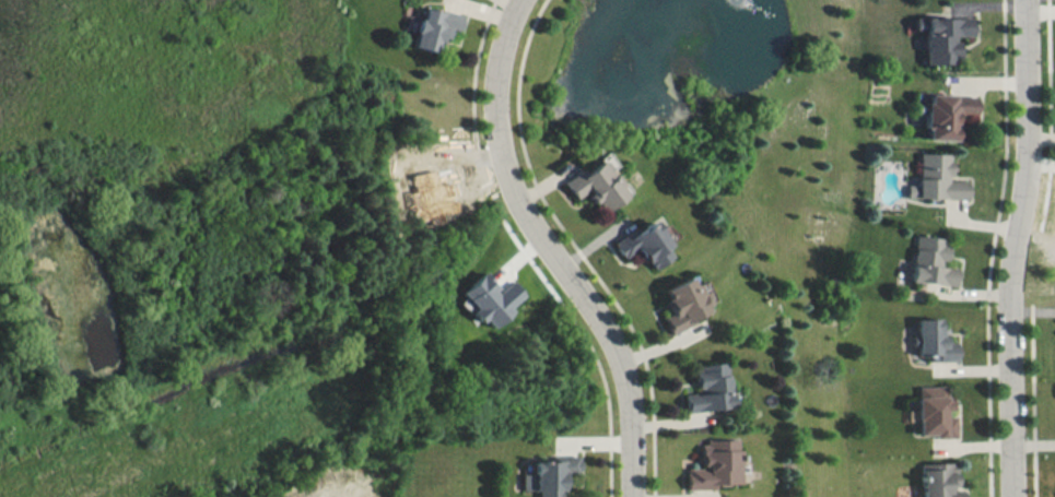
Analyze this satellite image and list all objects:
road: (449, 0)
road: (488, 2)
road: (1048, 2)
road: (958, 3)
road: (1041, 7)
road: (505, 9)
road: (1008, 17)
building: (434, 19)
building: (945, 26)
road: (981, 73)
road: (1018, 73)
road: (477, 78)
road: (521, 94)
building: (946, 106)
road: (1041, 121)
road: (1040, 159)
road: (559, 163)
road: (1006, 169)
building: (936, 171)
building: (600, 176)
road: (528, 182)
road: (970, 211)
road: (1009, 217)
road: (607, 223)
building: (645, 234)
road: (1015, 248)
road: (553, 249)
road: (571, 249)
building: (931, 253)
road: (613, 283)
road: (960, 287)
road: (1000, 287)
building: (689, 293)
building: (491, 297)
road: (1045, 303)
road: (1022, 304)
building: (931, 331)
road: (672, 332)
road: (597, 345)
road: (632, 348)
road: (964, 363)
road: (993, 364)
road: (1001, 364)
building: (710, 380)
road: (1038, 395)
building: (936, 403)
road: (682, 411)
road: (641, 416)
road: (583, 433)
road: (618, 433)
road: (1003, 434)
road: (1024, 434)
road: (1046, 434)
road: (963, 437)
road: (656, 443)
road: (611, 453)
building: (715, 455)
road: (994, 461)
building: (548, 464)
building: (942, 475)
road: (683, 488)
road: (643, 490)

